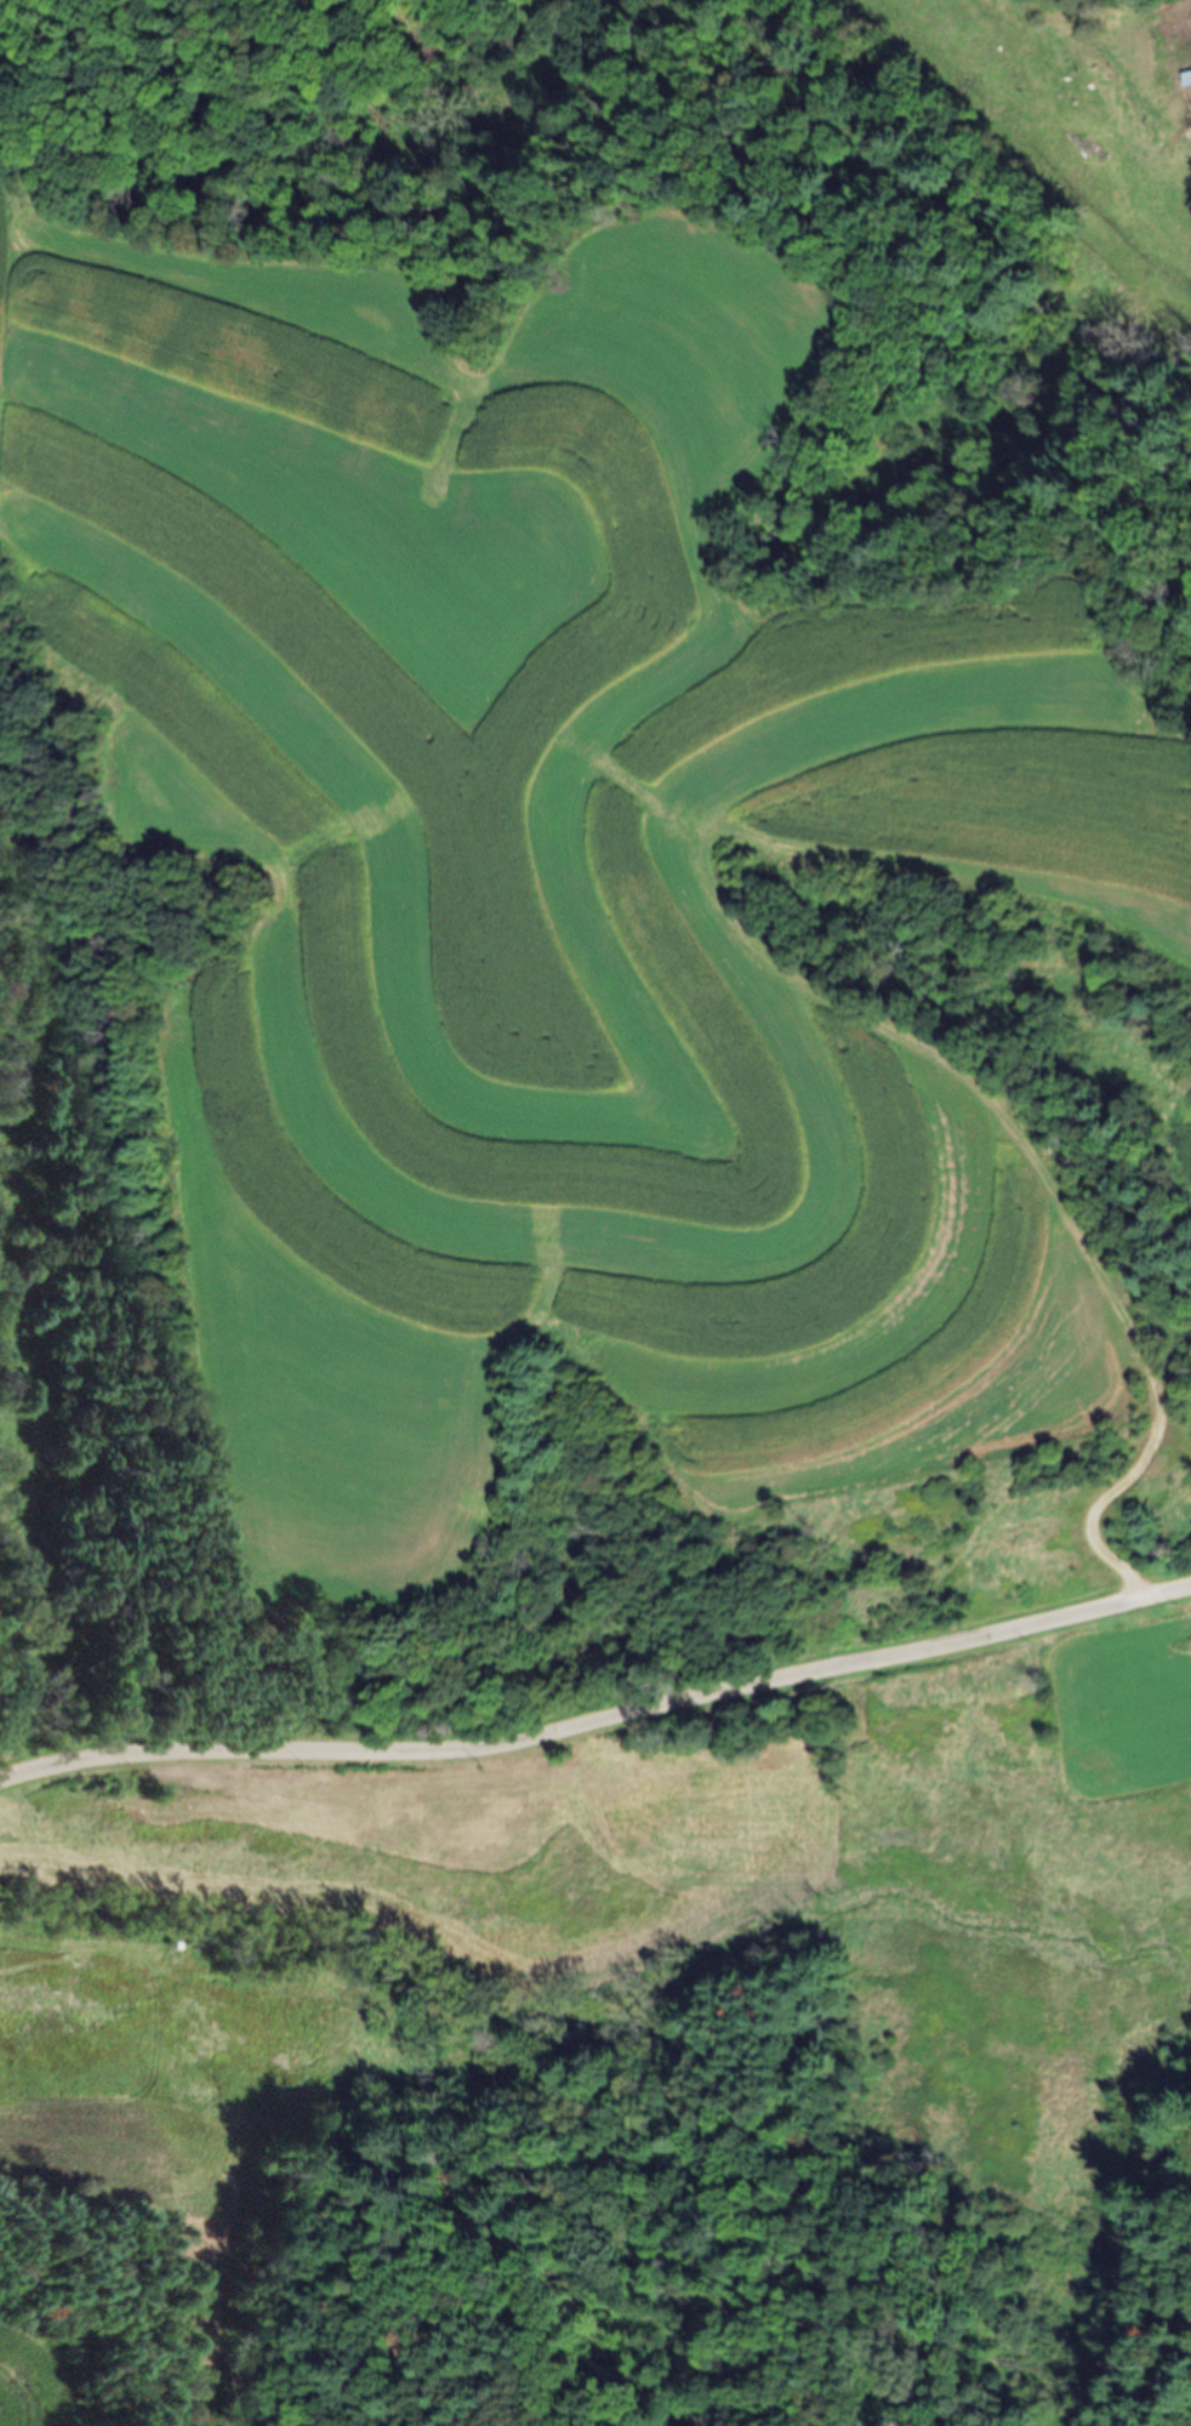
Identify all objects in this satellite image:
road: (599, 1719)

